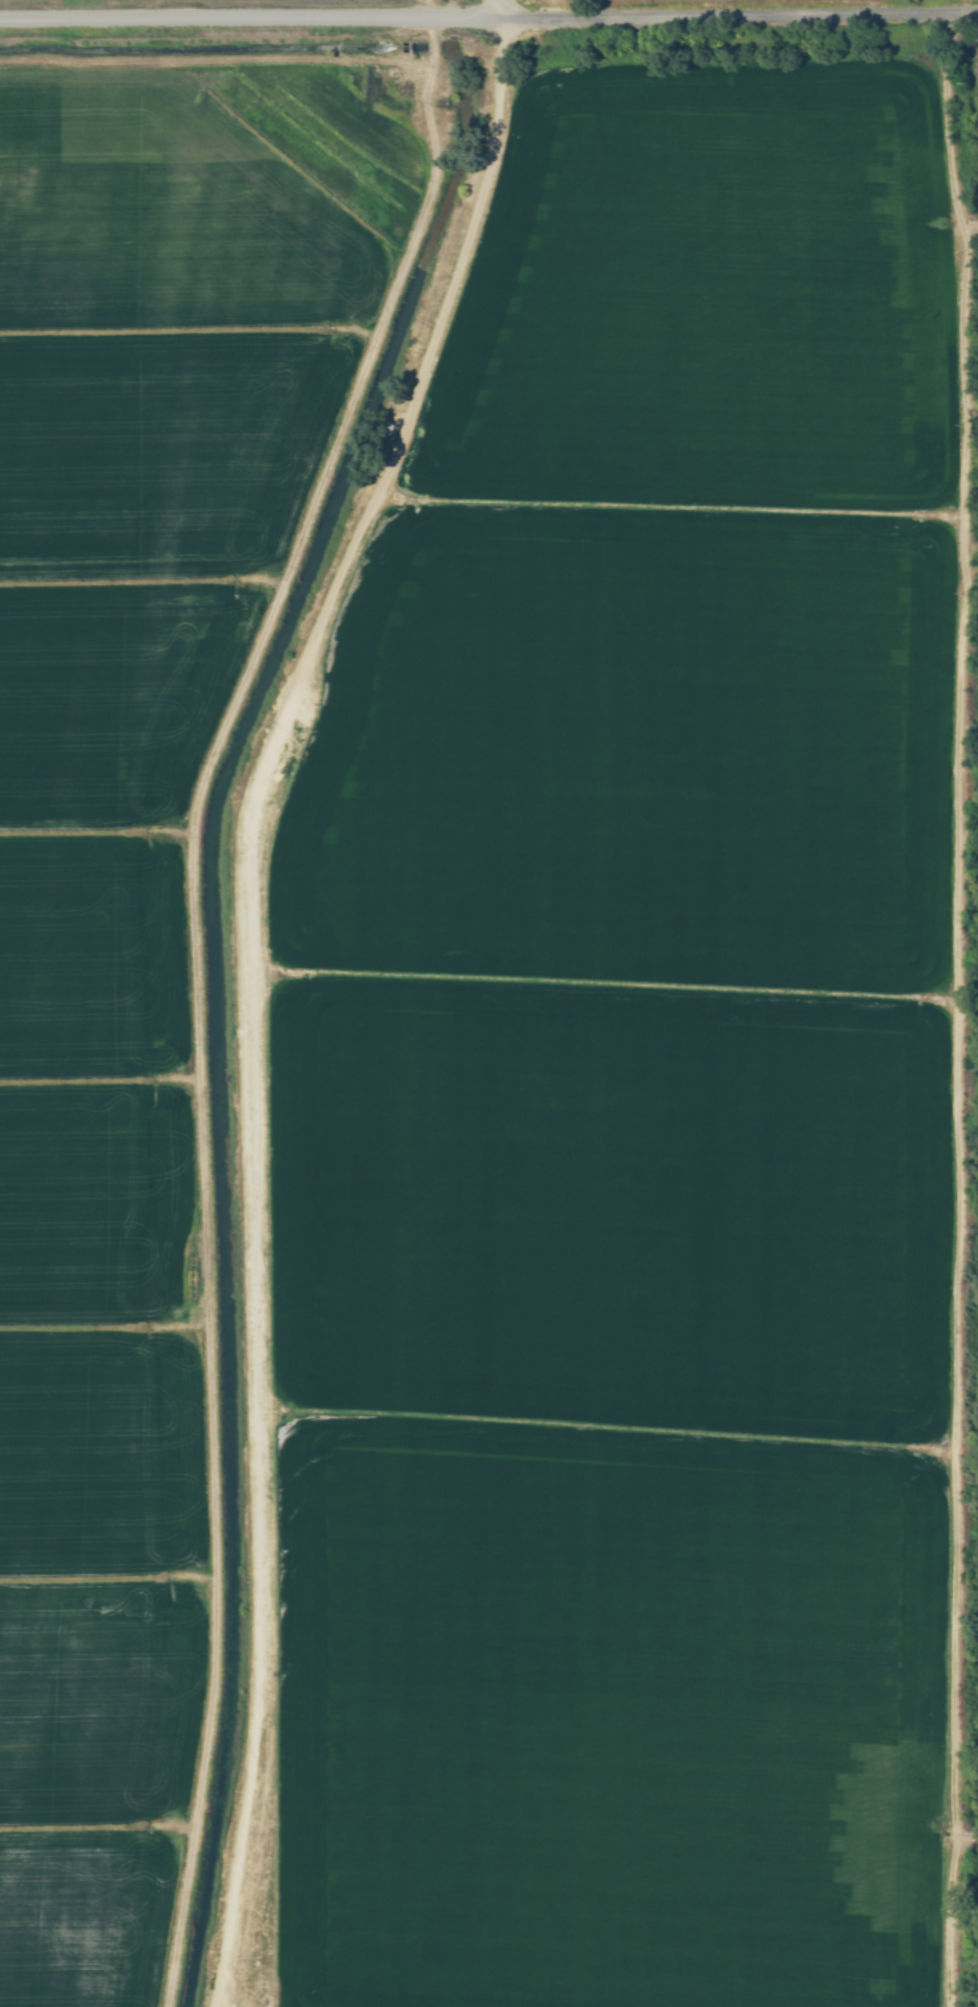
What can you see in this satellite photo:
road: (507, 11)
road: (489, 23)
road: (245, 994)

